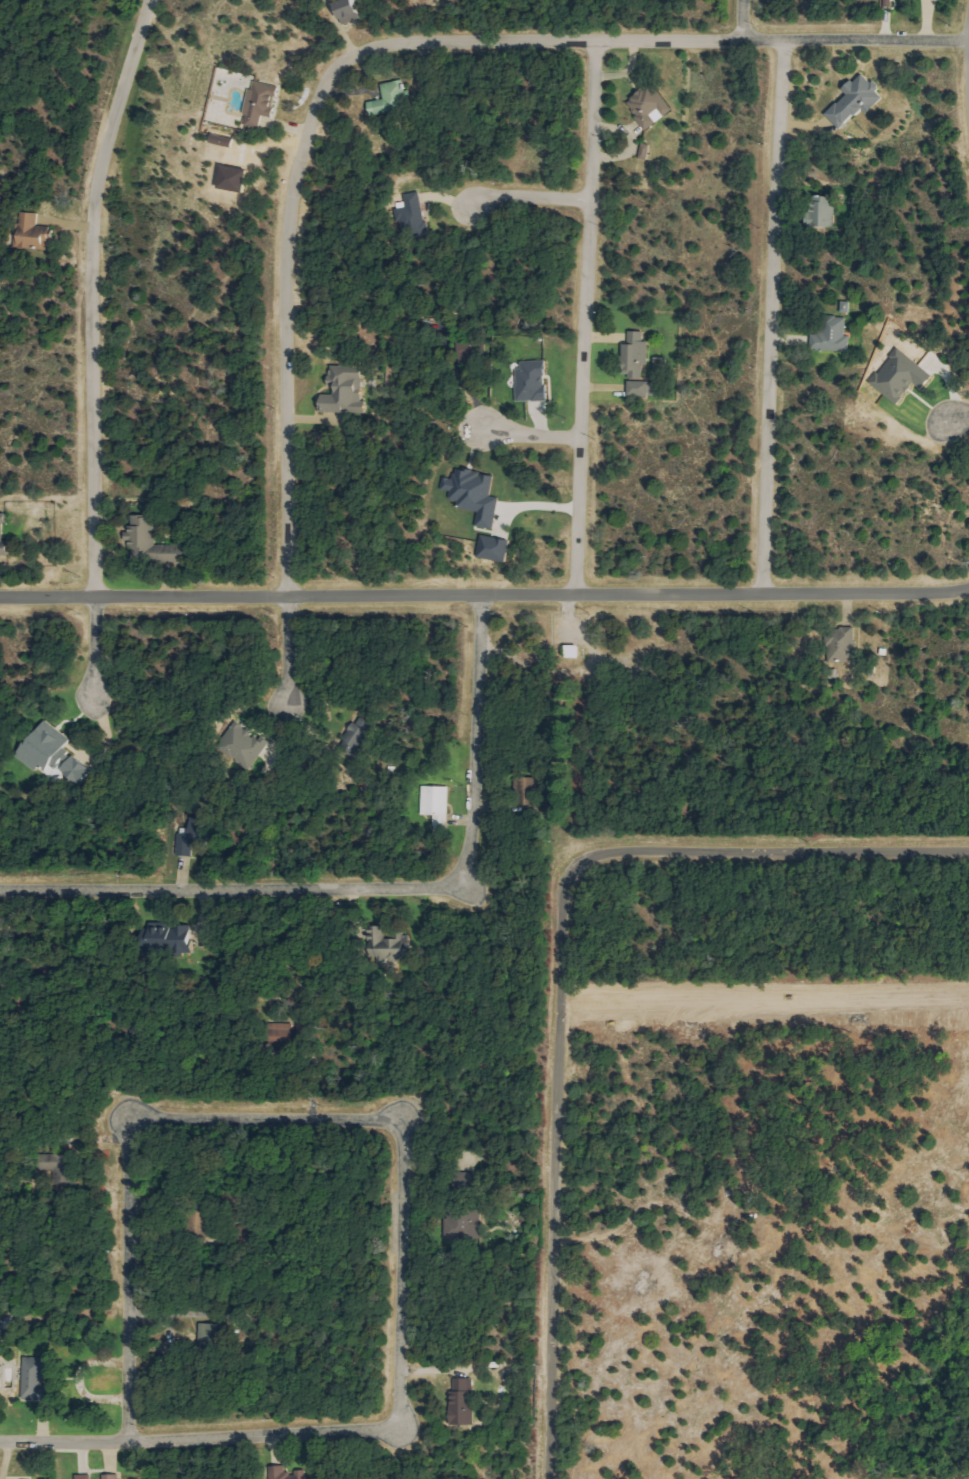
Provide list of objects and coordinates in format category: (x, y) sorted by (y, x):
building: (351, 10)
road: (741, 20)
road: (379, 46)
building: (393, 98)
building: (856, 102)
building: (262, 103)
building: (650, 105)
building: (224, 140)
road: (527, 194)
building: (824, 211)
building: (414, 217)
building: (34, 232)
road: (90, 294)
road: (583, 317)
road: (768, 317)
building: (833, 336)
building: (469, 350)
building: (638, 363)
building: (533, 381)
building: (346, 391)
road: (527, 432)
building: (475, 494)
building: (4, 538)
building: (153, 543)
building: (495, 548)
road: (484, 594)
road: (95, 647)
building: (843, 649)
building: (574, 650)
road: (287, 651)
building: (358, 735)
building: (243, 742)
building: (55, 753)
building: (437, 805)
building: (193, 836)
road: (373, 889)
building: (170, 939)
building: (389, 944)
road: (557, 970)
road: (263, 1119)
building: (59, 1162)
road: (400, 1269)
road: (127, 1283)
building: (212, 1335)
building: (36, 1378)
building: (463, 1401)
road: (198, 1438)
building: (286, 1473)
building: (85, 1476)
building: (112, 1476)

